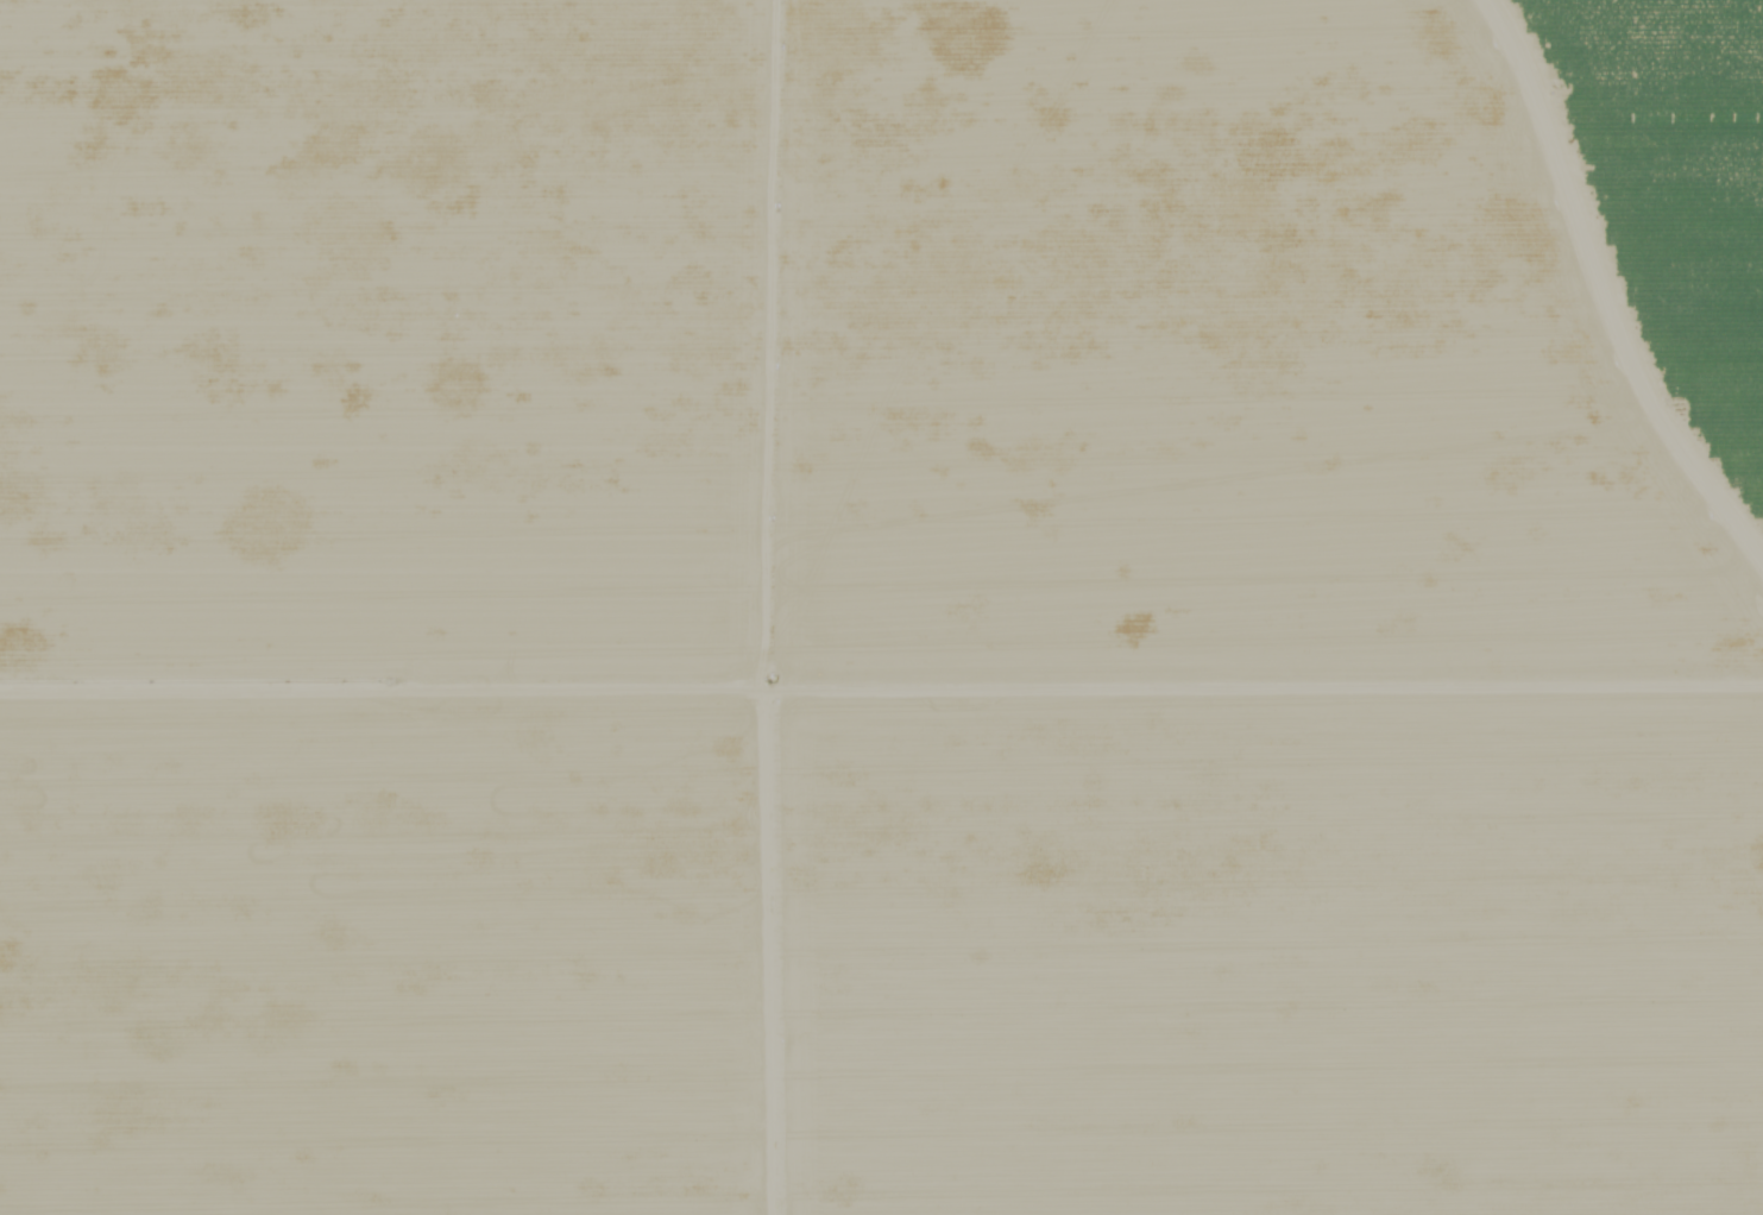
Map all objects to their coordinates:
crop: (881, 607)

